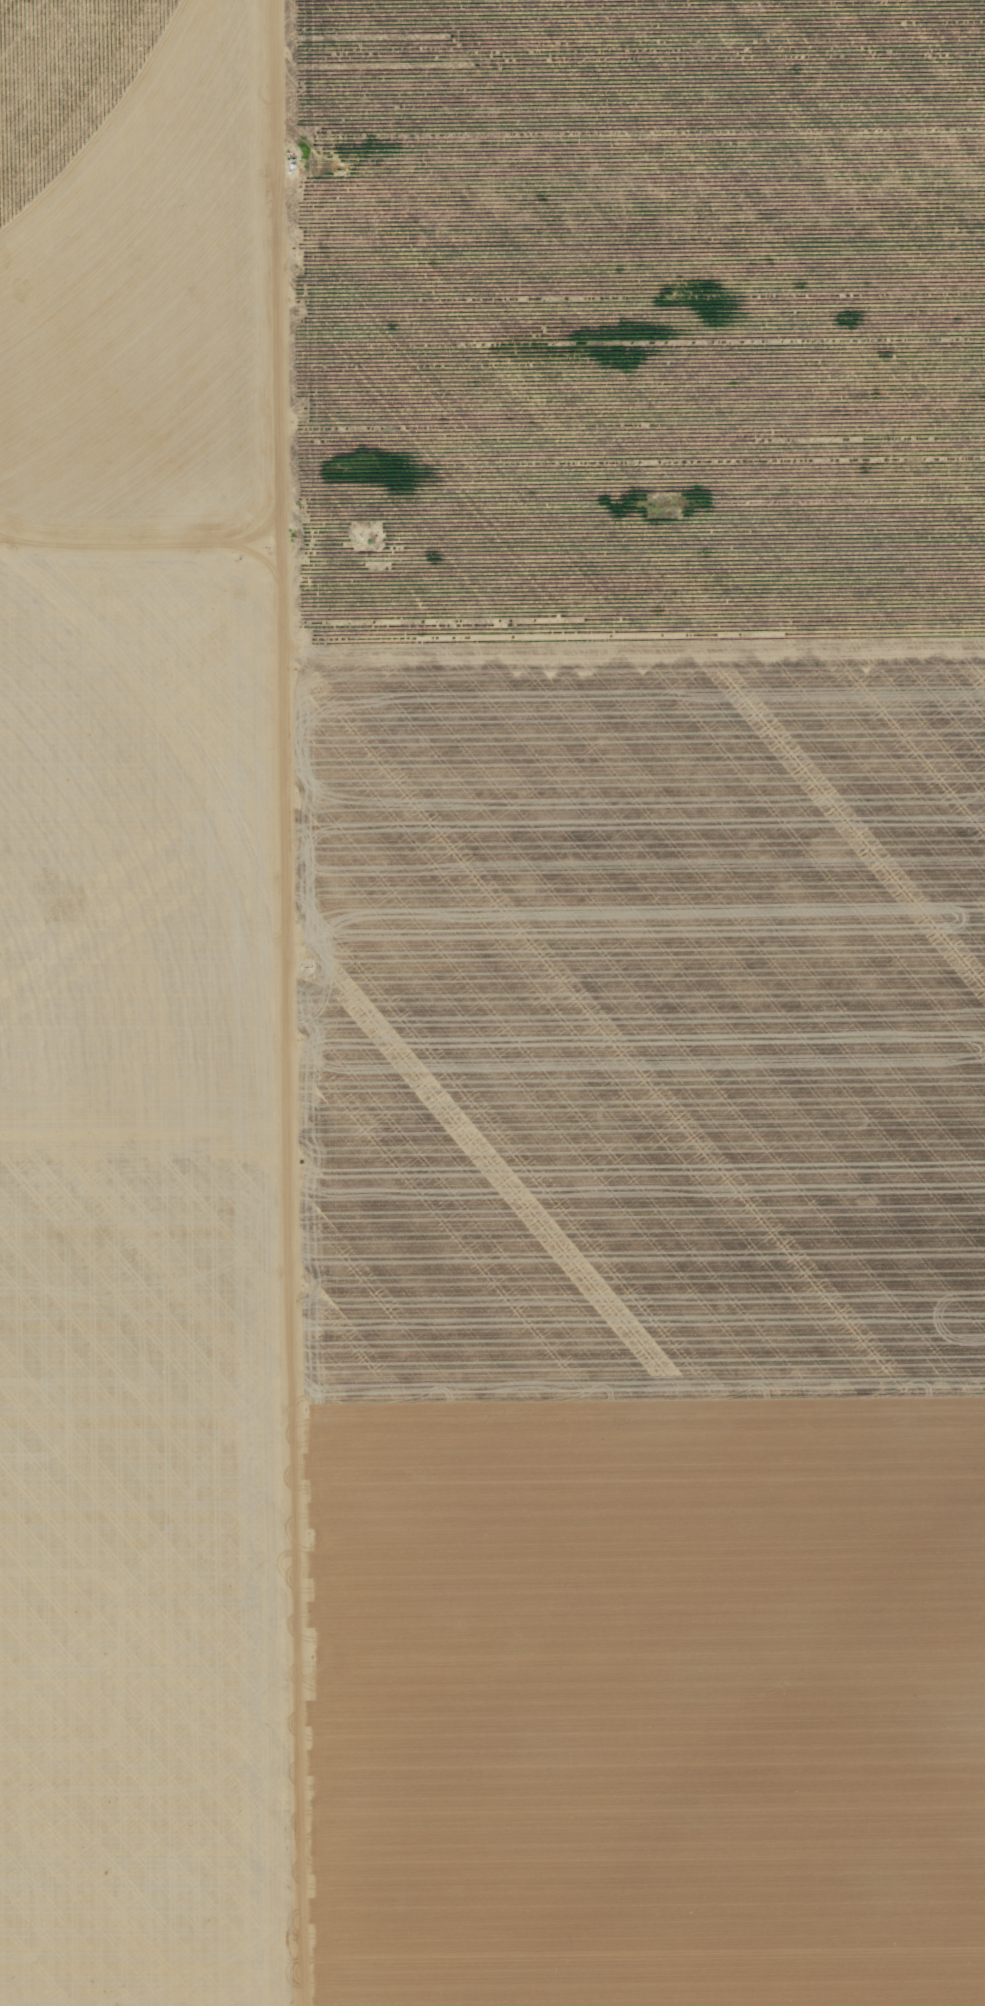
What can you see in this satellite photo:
road: (295, 1003)

